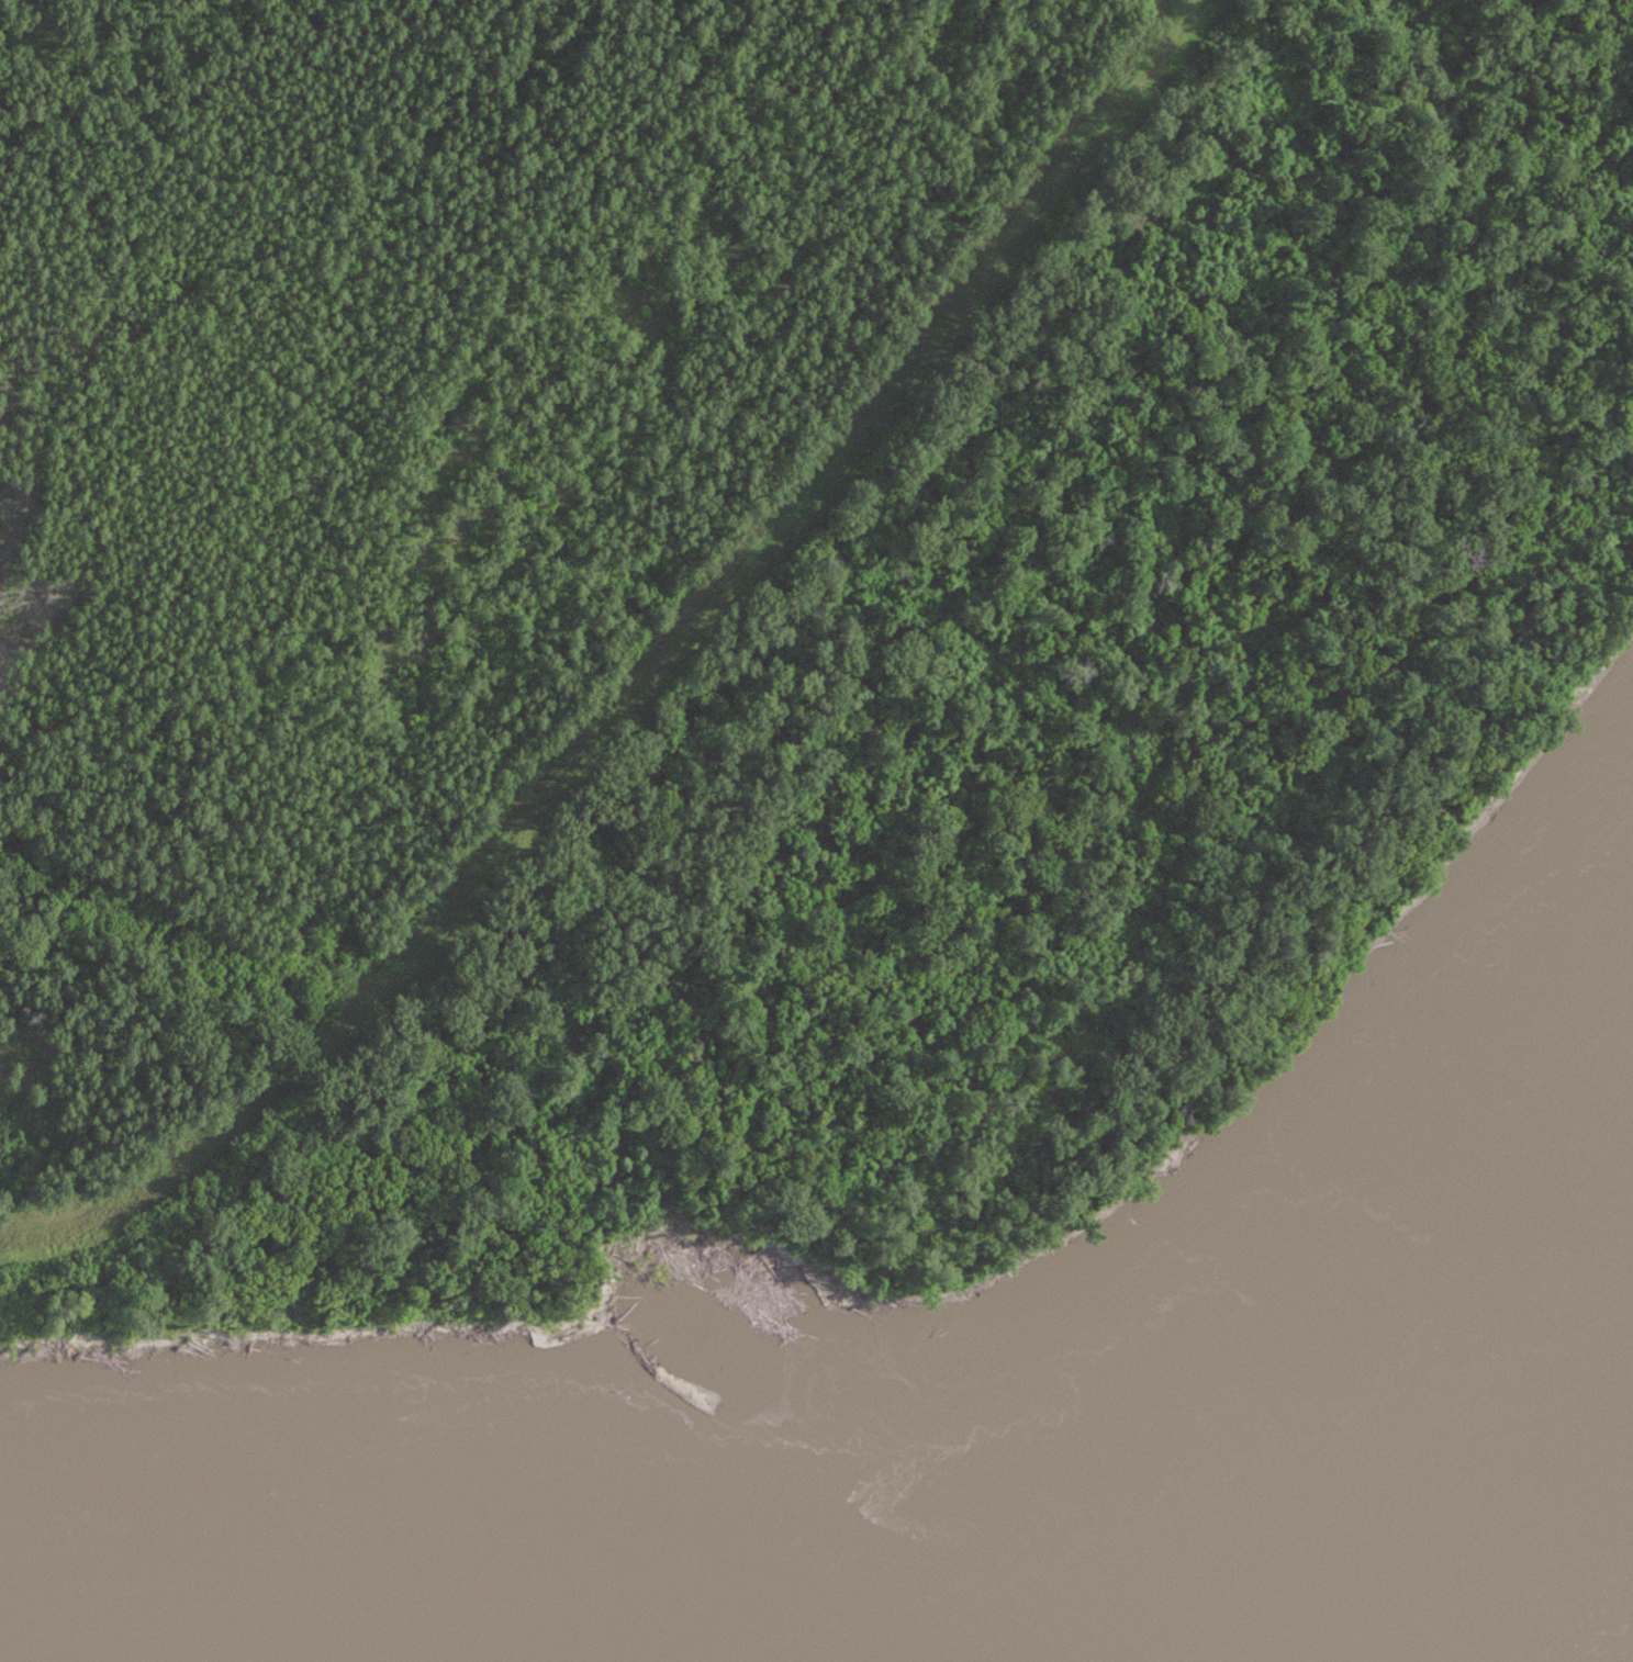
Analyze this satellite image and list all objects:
river: (1512, 1591)

